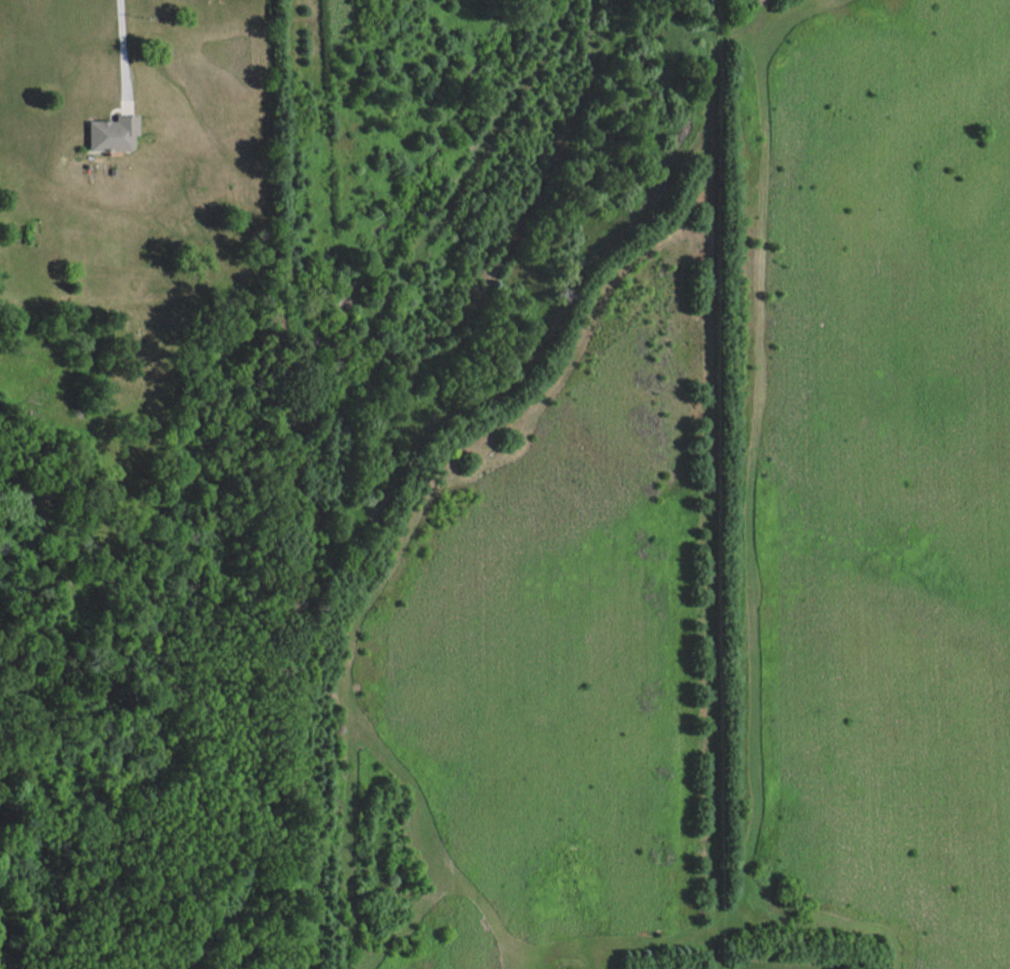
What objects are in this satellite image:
road: (121, 49)

